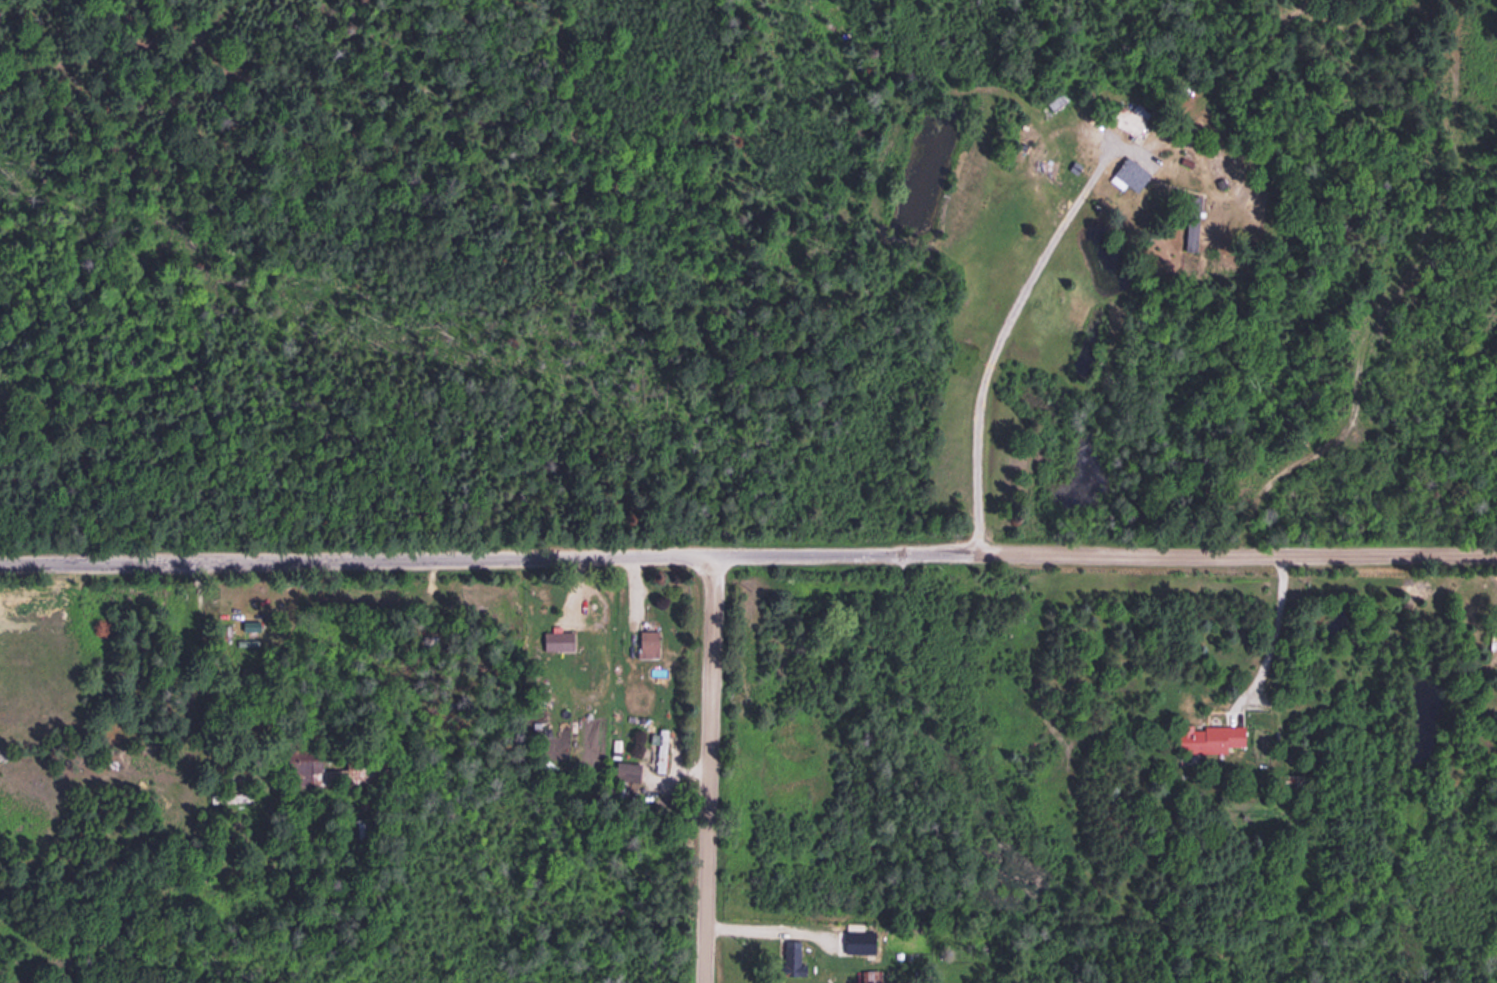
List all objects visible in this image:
building: (1123, 121)
building: (1129, 174)
building: (1190, 223)
road: (1045, 349)
road: (748, 556)
building: (248, 627)
building: (555, 639)
building: (646, 644)
building: (1491, 645)
building: (1207, 738)
building: (659, 750)
road: (709, 770)
building: (624, 771)
building: (229, 796)
building: (857, 941)
building: (872, 976)

